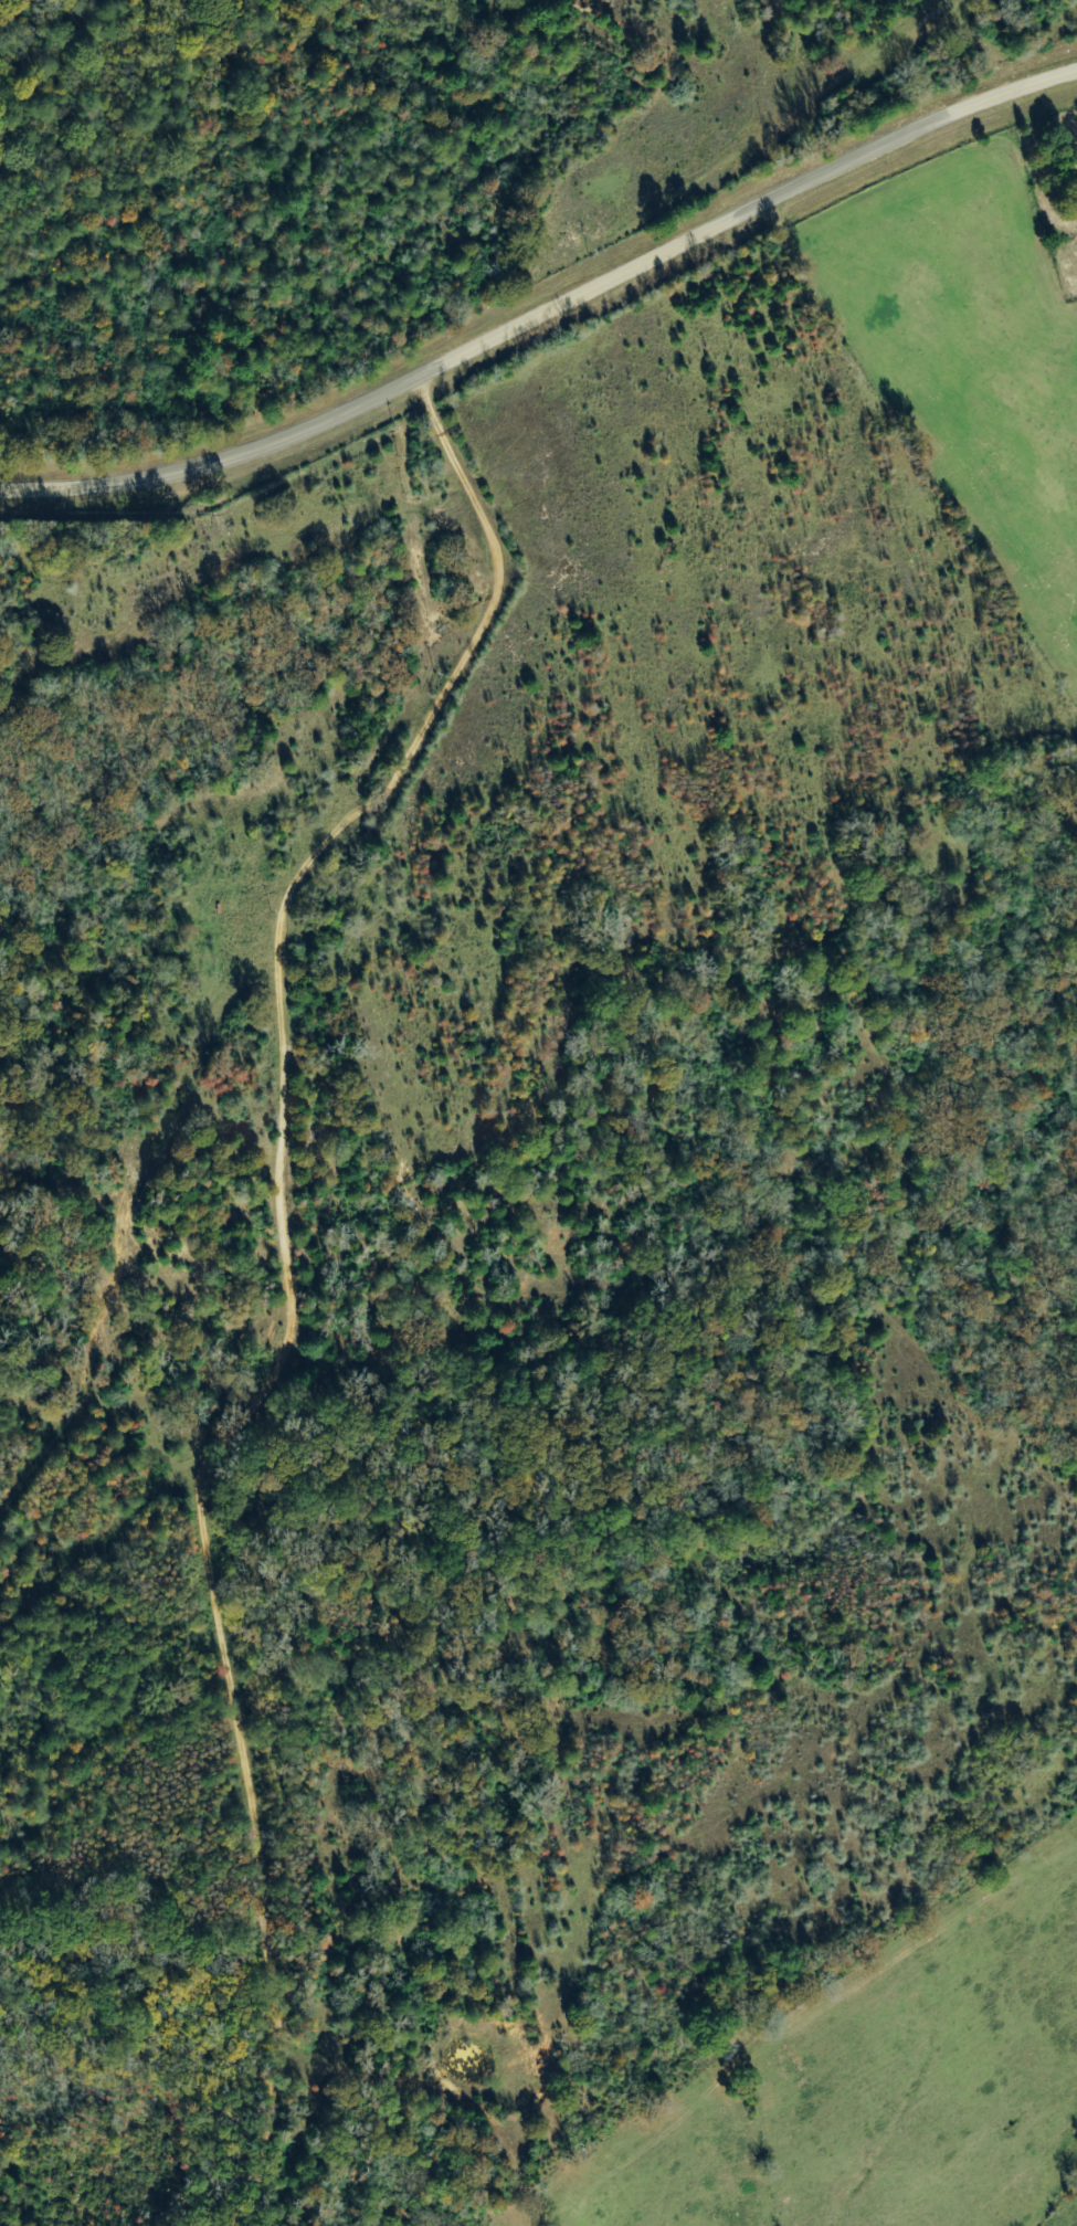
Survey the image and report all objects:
road: (846, 84)
road: (547, 313)

